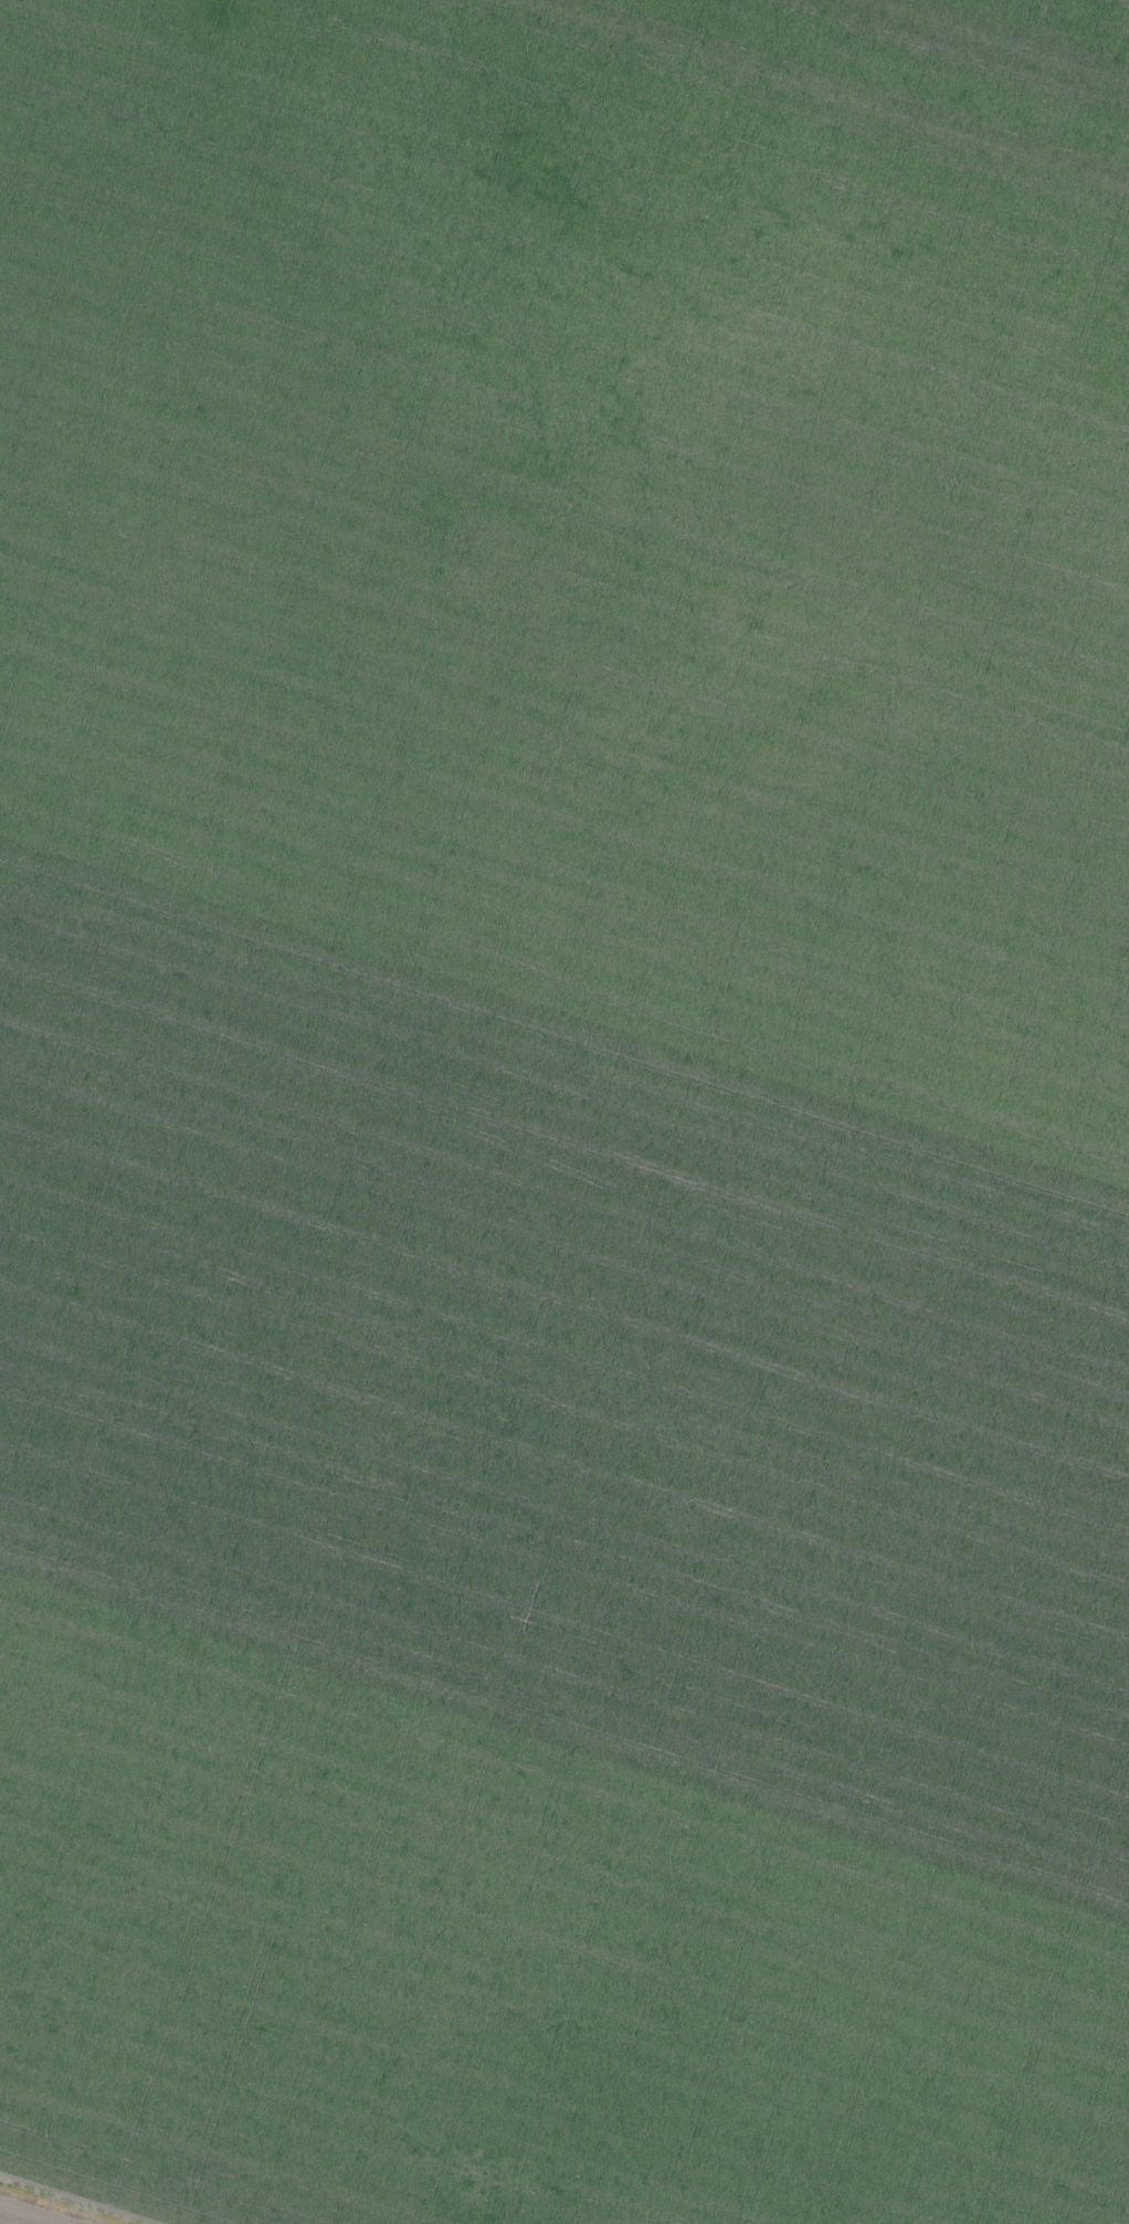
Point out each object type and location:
road: (39, 2212)

